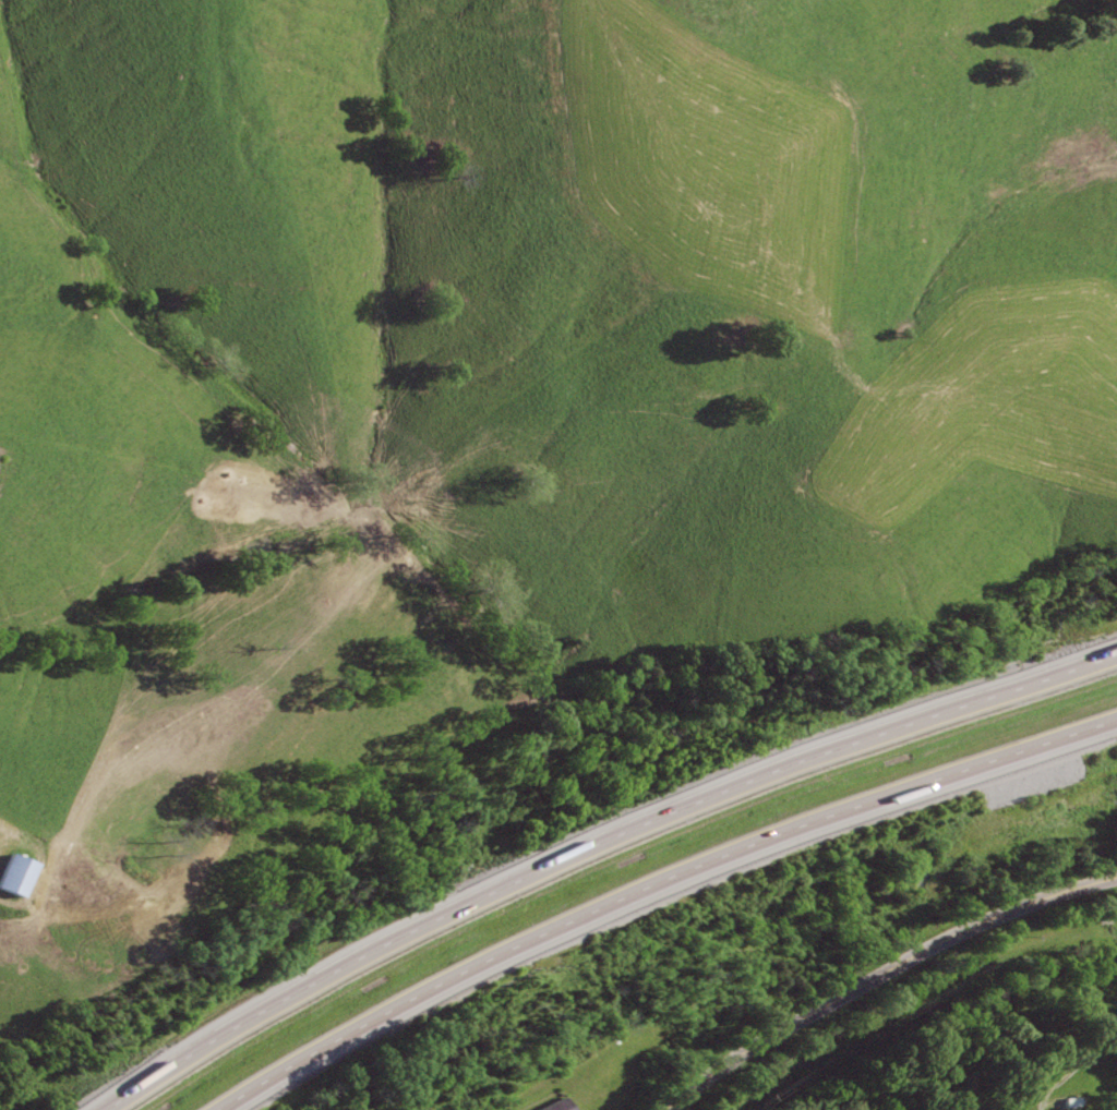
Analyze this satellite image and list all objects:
road: (593, 844)
building: (16, 872)
road: (661, 888)
road: (882, 974)
building: (561, 1105)

